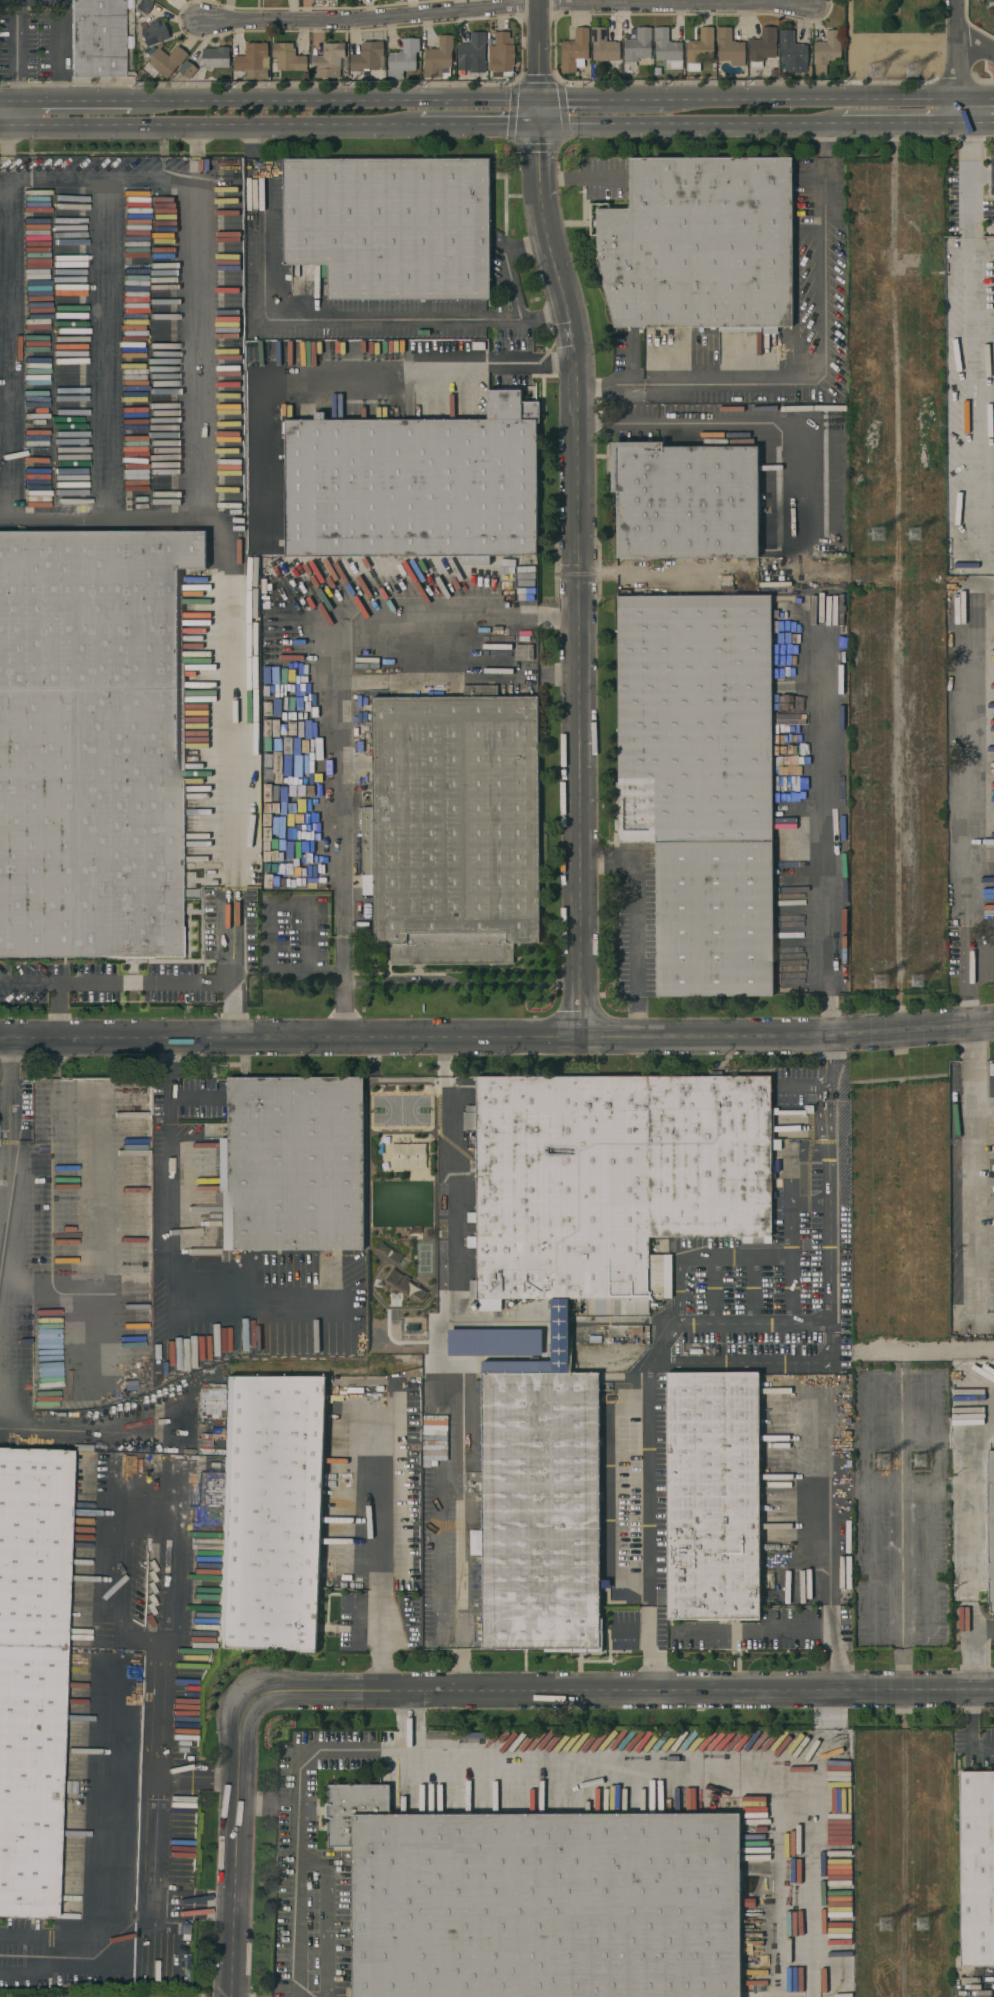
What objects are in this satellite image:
building: (144, 6)
road: (508, 7)
road: (57, 23)
building: (154, 32)
park: (894, 37)
building: (97, 38)
road: (977, 43)
building: (638, 45)
building: (603, 47)
building: (729, 47)
building: (763, 47)
building: (700, 48)
building: (667, 49)
building: (575, 50)
building: (826, 51)
building: (503, 52)
building: (792, 52)
building: (472, 53)
building: (215, 57)
building: (288, 57)
building: (368, 57)
building: (439, 58)
building: (403, 59)
building: (253, 61)
building: (330, 61)
building: (164, 62)
road: (538, 64)
road: (960, 64)
road: (15, 65)
building: (187, 69)
power tower: (883, 72)
power tower: (920, 73)
road: (977, 98)
road: (7, 99)
road: (334, 99)
traffic signals: (539, 99)
road: (601, 99)
road: (812, 99)
road: (71, 100)
road: (690, 127)
road: (901, 127)
road: (3, 128)
traffic signals: (540, 128)
road: (977, 128)
road: (209, 129)
road: (477, 129)
road: (196, 152)
road: (5, 153)
road: (981, 175)
road: (97, 178)
road: (582, 178)
road: (969, 183)
building: (392, 225)
building: (701, 244)
road: (505, 264)
road: (361, 320)
road: (823, 346)
road: (290, 364)
road: (531, 364)
road: (607, 386)
road: (972, 408)
road: (748, 423)
road: (197, 443)
building: (415, 487)
building: (685, 502)
power tower: (920, 535)
power tower: (882, 540)
road: (581, 578)
building: (523, 652)
road: (230, 696)
building: (92, 743)
road: (339, 780)
building: (701, 781)
road: (967, 813)
road: (827, 817)
building: (454, 826)
road: (271, 923)
road: (635, 923)
road: (231, 933)
road: (980, 956)
power tower: (924, 977)
road: (144, 979)
road: (28, 981)
power tower: (888, 983)
road: (461, 984)
road: (290, 1033)
road: (787, 1035)
road: (826, 1044)
road: (5, 1095)
road: (818, 1102)
road: (829, 1102)
road: (453, 1159)
road: (981, 1159)
building: (294, 1166)
building: (612, 1182)
road: (171, 1257)
road: (10, 1298)
building: (511, 1308)
road: (659, 1348)
building: (499, 1349)
railway: (346, 1371)
building: (211, 1391)
road: (989, 1392)
building: (434, 1437)
power tower: (925, 1461)
power tower: (886, 1466)
building: (714, 1494)
building: (542, 1510)
building: (272, 1511)
building: (990, 1526)
road: (378, 1548)
road: (830, 1563)
building: (792, 1580)
road: (437, 1601)
road: (109, 1626)
road: (752, 1631)
road: (976, 1653)
building: (31, 1673)
road: (618, 1697)
road: (409, 1724)
road: (969, 1734)
road: (631, 1758)
road: (138, 1765)
road: (296, 1802)
road: (239, 1849)
building: (976, 1870)
building: (539, 1902)
road: (326, 1913)
power tower: (929, 1925)
power tower: (892, 1926)
road: (291, 1928)
road: (38, 1939)

